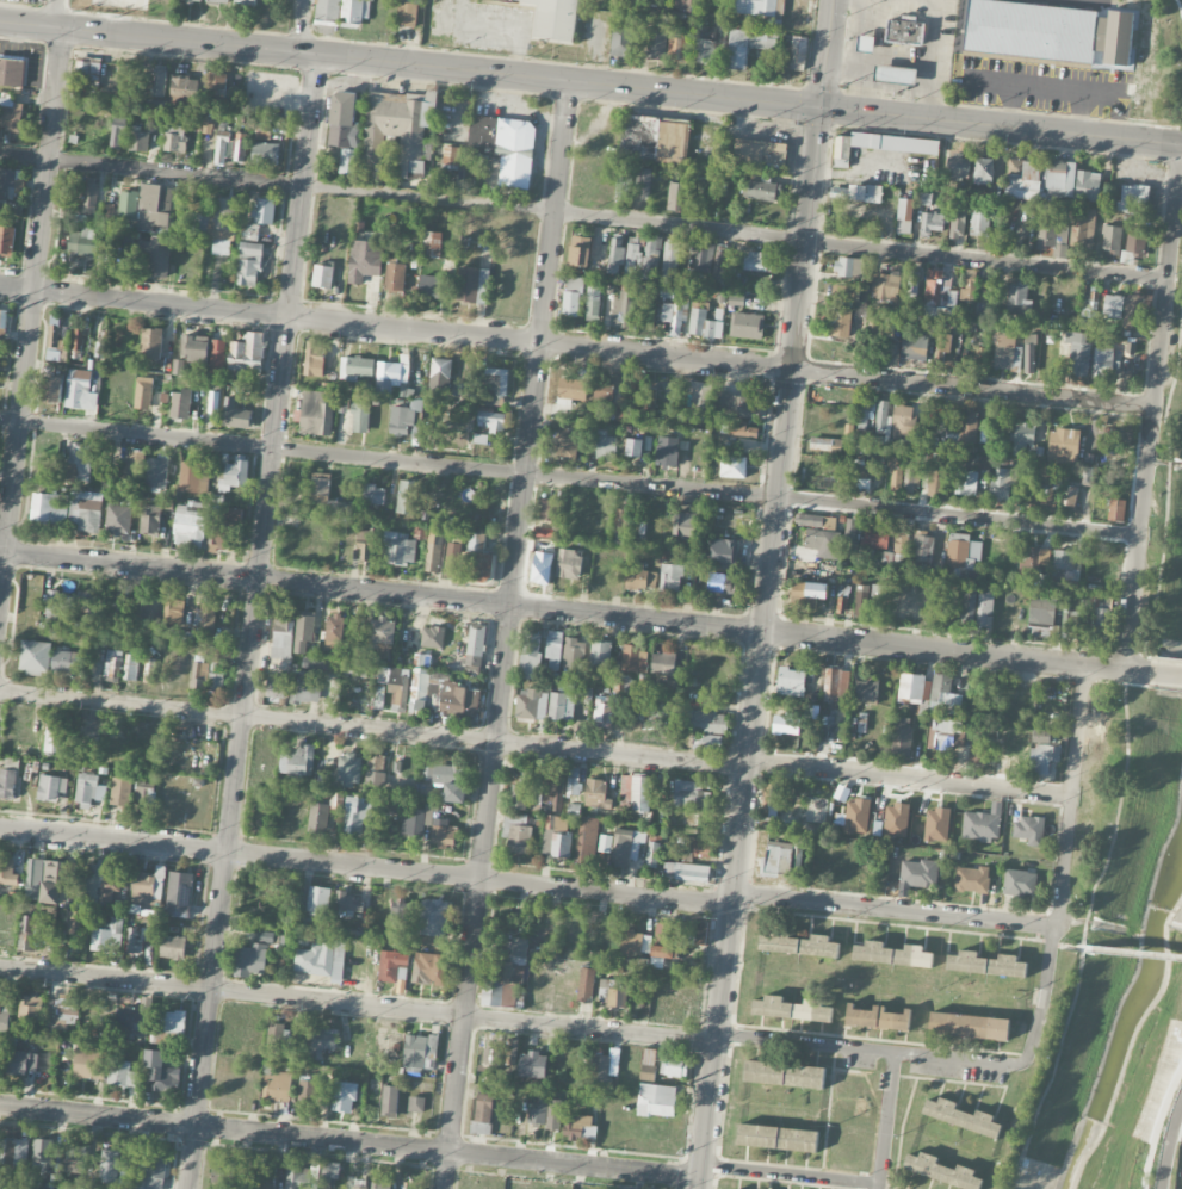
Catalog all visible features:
building: (192, 0)
building: (218, 1)
road: (911, 2)
building: (246, 4)
building: (688, 4)
building: (760, 7)
building: (328, 10)
building: (355, 11)
building: (797, 11)
road: (55, 13)
building: (408, 13)
road: (1180, 13)
building: (555, 19)
road: (303, 26)
building: (904, 32)
building: (1028, 32)
building: (625, 41)
building: (1120, 41)
building: (657, 42)
road: (849, 44)
building: (865, 44)
building: (707, 45)
building: (748, 45)
building: (676, 48)
road: (285, 50)
building: (798, 52)
road: (828, 52)
road: (933, 58)
park: (1158, 63)
building: (88, 68)
building: (12, 72)
building: (895, 74)
building: (159, 82)
road: (883, 88)
building: (215, 89)
building: (182, 93)
road: (862, 99)
traffic signals: (822, 107)
road: (877, 112)
building: (11, 114)
building: (345, 126)
building: (398, 130)
building: (262, 131)
building: (118, 132)
building: (174, 138)
building: (655, 140)
building: (138, 141)
building: (880, 145)
building: (223, 147)
building: (505, 147)
building: (240, 150)
building: (265, 154)
building: (757, 154)
building: (451, 157)
building: (958, 162)
building: (983, 171)
building: (1059, 179)
building: (643, 182)
building: (1026, 182)
building: (1087, 185)
building: (620, 188)
building: (11, 190)
building: (763, 191)
building: (866, 193)
building: (88, 197)
building: (676, 197)
building: (1133, 198)
building: (128, 205)
building: (155, 206)
building: (264, 210)
road: (583, 215)
building: (982, 219)
building: (932, 223)
building: (957, 227)
building: (1083, 230)
building: (250, 231)
building: (1052, 231)
building: (1112, 239)
building: (6, 240)
building: (1134, 240)
building: (83, 241)
building: (432, 242)
building: (219, 247)
building: (580, 250)
building: (615, 254)
building: (643, 254)
building: (155, 255)
road: (1181, 255)
building: (105, 256)
building: (704, 258)
building: (365, 260)
building: (670, 260)
building: (757, 261)
building: (720, 262)
building: (249, 264)
building: (850, 267)
building: (323, 277)
building: (395, 277)
building: (470, 285)
building: (433, 286)
building: (886, 286)
building: (969, 286)
building: (986, 289)
building: (846, 293)
building: (937, 293)
building: (573, 296)
building: (736, 301)
building: (1019, 301)
building: (593, 303)
building: (1113, 305)
building: (1090, 306)
road: (31, 308)
building: (1133, 310)
building: (984, 311)
building: (621, 314)
building: (674, 316)
building: (2, 323)
building: (841, 323)
building: (878, 323)
building: (704, 324)
building: (747, 326)
building: (78, 337)
building: (56, 341)
building: (943, 342)
building: (151, 343)
road: (576, 346)
building: (915, 347)
building: (192, 352)
building: (247, 352)
building: (1031, 352)
building: (1007, 353)
building: (1077, 353)
building: (980, 355)
building: (217, 357)
building: (314, 359)
building: (1102, 361)
building: (1047, 364)
building: (355, 367)
building: (391, 376)
building: (440, 376)
building: (495, 388)
building: (54, 389)
building: (573, 389)
building: (80, 390)
building: (143, 394)
building: (607, 396)
building: (636, 396)
building: (700, 397)
building: (211, 401)
building: (649, 401)
building: (344, 403)
building: (180, 404)
building: (737, 405)
road: (1152, 407)
building: (317, 413)
building: (235, 415)
building: (864, 415)
building: (881, 415)
building: (360, 417)
building: (402, 420)
building: (494, 421)
building: (904, 422)
building: (967, 428)
building: (741, 429)
building: (447, 435)
building: (1022, 438)
building: (479, 439)
building: (567, 444)
building: (825, 445)
building: (607, 446)
building: (1063, 446)
building: (635, 447)
building: (667, 451)
building: (79, 463)
building: (732, 466)
building: (131, 469)
building: (905, 469)
building: (156, 472)
building: (237, 472)
building: (861, 476)
building: (193, 477)
road: (569, 478)
building: (936, 483)
building: (965, 483)
building: (1002, 483)
building: (320, 488)
road: (1168, 489)
building: (1042, 491)
building: (373, 494)
building: (1069, 496)
building: (407, 497)
building: (49, 508)
building: (549, 510)
building: (1116, 510)
building: (85, 512)
building: (230, 514)
building: (118, 520)
building: (150, 520)
building: (816, 521)
building: (620, 522)
building: (685, 524)
building: (190, 525)
building: (544, 532)
building: (218, 538)
building: (875, 538)
building: (834, 540)
building: (365, 545)
building: (901, 547)
building: (398, 549)
building: (433, 550)
building: (922, 550)
building: (963, 551)
building: (724, 552)
building: (990, 555)
building: (452, 559)
building: (478, 559)
building: (1032, 562)
building: (569, 564)
building: (1067, 564)
building: (639, 577)
building: (672, 577)
building: (723, 582)
building: (797, 590)
building: (817, 590)
building: (878, 592)
building: (861, 600)
building: (969, 605)
building: (904, 607)
building: (67, 608)
building: (173, 611)
building: (929, 611)
building: (949, 611)
road: (575, 612)
building: (984, 612)
building: (1041, 612)
building: (118, 613)
building: (206, 620)
road: (253, 621)
building: (1071, 625)
building: (1100, 626)
building: (334, 631)
building: (304, 632)
building: (283, 633)
building: (379, 633)
road: (506, 634)
building: (182, 636)
road: (760, 648)
building: (475, 649)
building: (553, 650)
building: (600, 654)
building: (574, 655)
building: (36, 657)
building: (531, 657)
building: (635, 659)
building: (62, 661)
building: (217, 661)
building: (112, 663)
building: (663, 663)
building: (312, 664)
building: (130, 667)
building: (354, 668)
building: (148, 670)
road: (1166, 673)
building: (199, 676)
building: (216, 682)
building: (791, 682)
building: (836, 682)
building: (276, 687)
building: (398, 687)
building: (910, 687)
building: (304, 689)
building: (583, 691)
building: (866, 692)
building: (420, 694)
building: (940, 695)
building: (379, 698)
building: (460, 701)
building: (532, 704)
building: (561, 706)
building: (651, 707)
building: (602, 712)
building: (705, 722)
building: (861, 723)
building: (786, 725)
road: (372, 727)
building: (945, 735)
building: (1041, 736)
building: (54, 738)
building: (902, 741)
building: (707, 742)
building: (977, 750)
building: (1044, 758)
building: (297, 761)
building: (348, 769)
building: (375, 770)
building: (525, 775)
road: (908, 778)
building: (8, 780)
building: (446, 780)
building: (573, 786)
building: (51, 788)
building: (427, 789)
building: (89, 791)
building: (552, 791)
building: (595, 791)
building: (120, 792)
building: (635, 794)
building: (689, 794)
building: (520, 797)
building: (775, 798)
building: (144, 800)
building: (856, 816)
building: (318, 818)
building: (415, 820)
building: (896, 820)
building: (983, 823)
building: (937, 824)
building: (784, 825)
building: (1029, 830)
building: (444, 835)
building: (516, 835)
building: (556, 841)
building: (587, 841)
building: (626, 846)
building: (697, 848)
building: (652, 854)
building: (778, 857)
road: (1063, 865)
road: (365, 866)
building: (686, 872)
building: (7, 873)
building: (918, 873)
building: (33, 879)
building: (972, 879)
building: (57, 883)
building: (98, 883)
building: (1020, 883)
park: (1124, 885)
building: (148, 890)
building: (179, 894)
building: (318, 902)
building: (348, 904)
road: (895, 909)
building: (398, 915)
building: (433, 917)
building: (78, 923)
road: (1084, 931)
building: (31, 934)
building: (107, 936)
building: (137, 940)
building: (632, 941)
building: (800, 946)
road: (1070, 946)
building: (173, 947)
road: (1135, 952)
building: (893, 954)
building: (254, 956)
building: (322, 960)
building: (986, 965)
building: (394, 966)
building: (431, 968)
building: (506, 974)
building: (586, 984)
building: (613, 992)
road: (358, 1003)
building: (4, 1007)
building: (31, 1008)
building: (791, 1009)
building: (62, 1012)
building: (878, 1017)
building: (130, 1020)
building: (173, 1021)
building: (969, 1026)
building: (276, 1033)
building: (318, 1040)
building: (0, 1046)
road: (871, 1049)
building: (415, 1051)
building: (500, 1055)
building: (21, 1063)
building: (649, 1064)
building: (91, 1065)
building: (533, 1065)
building: (674, 1065)
building: (599, 1067)
building: (162, 1072)
building: (123, 1073)
building: (785, 1075)
building: (278, 1086)
building: (308, 1090)
building: (390, 1100)
building: (656, 1100)
building: (416, 1104)
building: (537, 1109)
building: (553, 1114)
building: (482, 1115)
building: (961, 1117)
road: (887, 1119)
road: (1158, 1125)
building: (580, 1127)
building: (778, 1138)
road: (349, 1141)
road: (1170, 1146)
building: (13, 1153)
building: (43, 1154)
building: (75, 1159)
building: (110, 1166)
building: (150, 1171)
building: (942, 1171)
building: (329, 1173)
building: (222, 1175)
road: (791, 1175)
building: (264, 1177)
building: (302, 1177)
building: (380, 1183)
road: (879, 1187)

